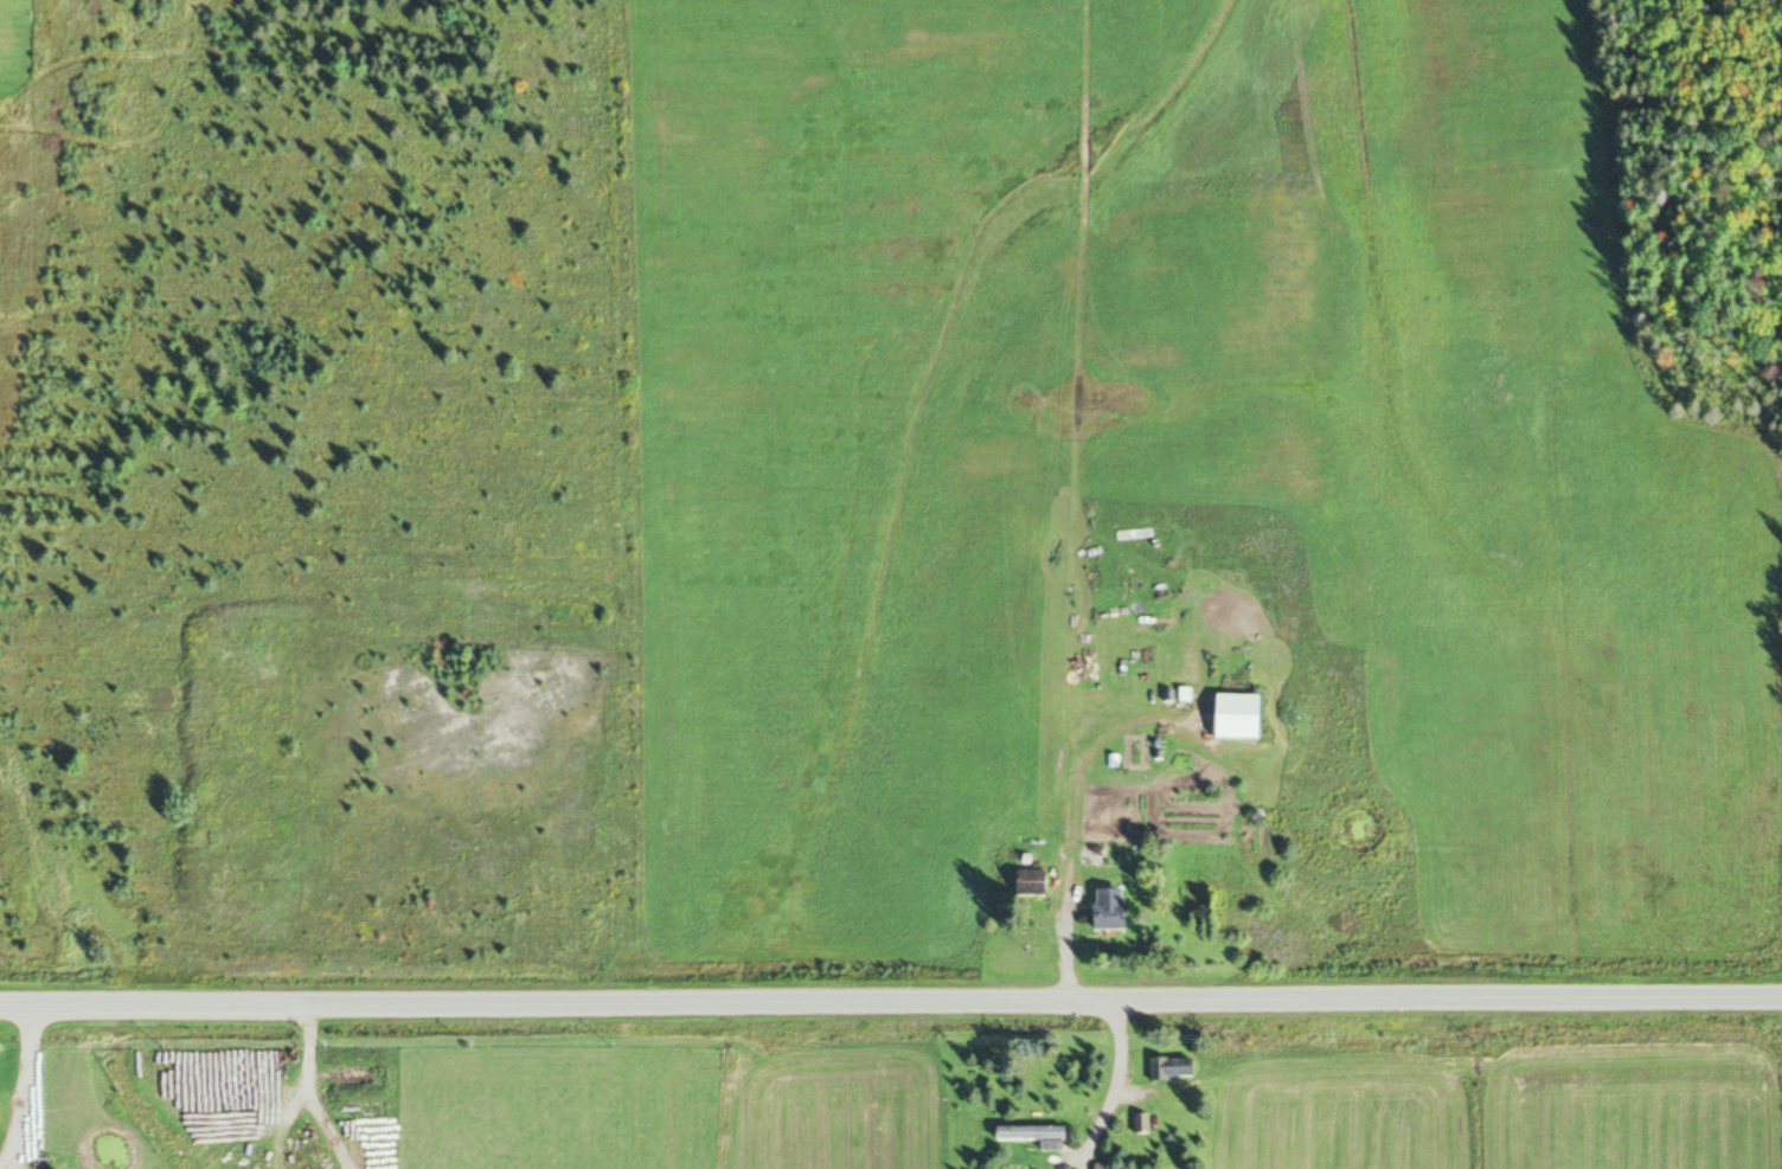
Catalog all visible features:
building: (1248, 715)
building: (1037, 882)
building: (1118, 908)
road: (891, 998)
building: (1179, 1067)
building: (1147, 1123)
building: (1041, 1135)

